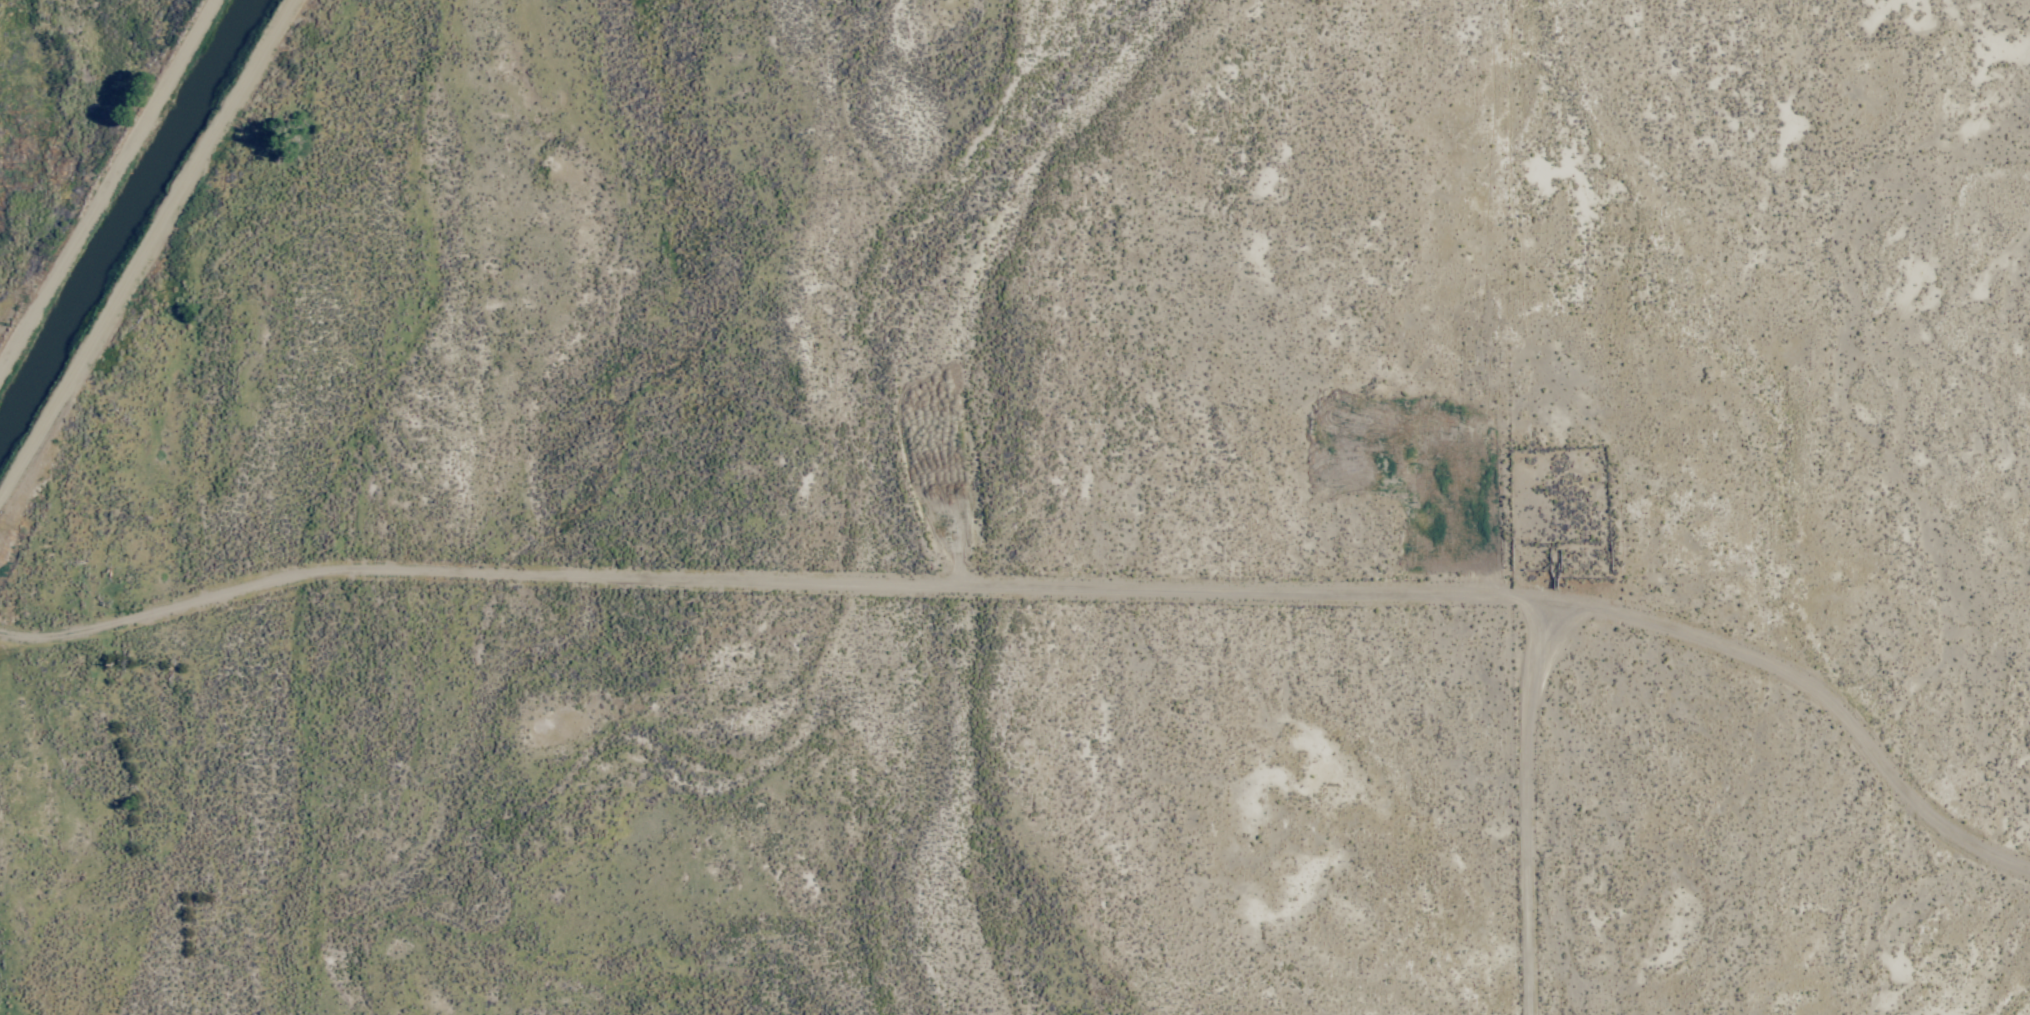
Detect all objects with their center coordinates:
road: (110, 189)
road: (148, 257)
road: (1055, 593)
road: (1530, 807)

